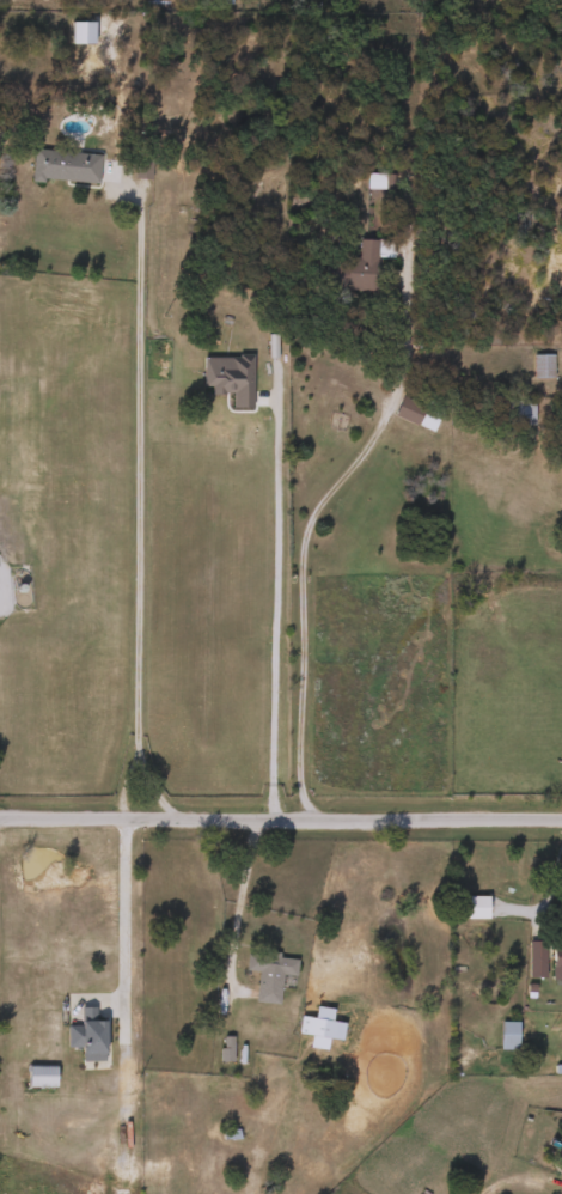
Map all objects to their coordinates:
building: (237, 0)
building: (62, 165)
building: (377, 182)
building: (350, 268)
building: (250, 337)
building: (540, 366)
building: (518, 410)
building: (414, 414)
road: (133, 505)
road: (312, 505)
road: (270, 587)
road: (280, 820)
road: (246, 903)
building: (474, 907)
road: (122, 910)
building: (533, 958)
building: (555, 960)
building: (265, 973)
building: (322, 1027)
building: (84, 1031)
building: (506, 1034)
building: (38, 1074)

